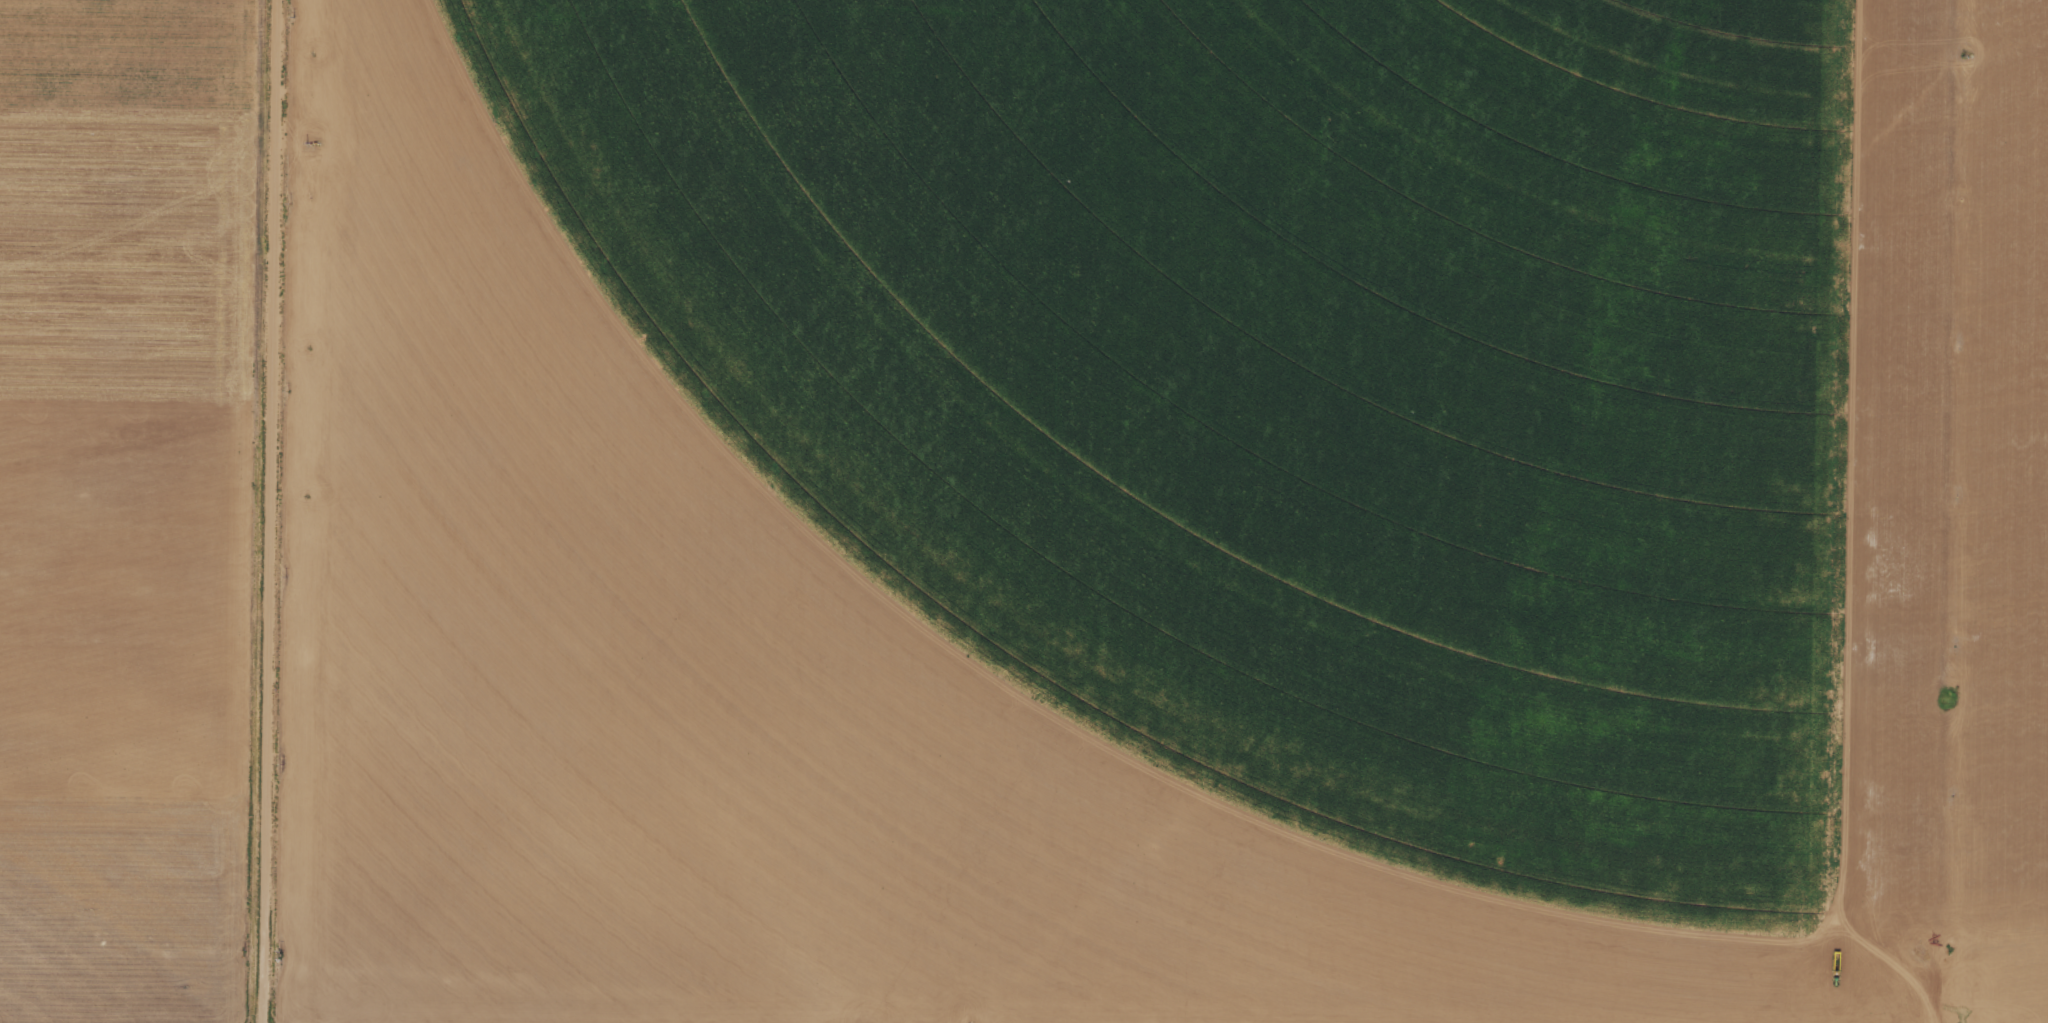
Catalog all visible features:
road: (272, 511)

